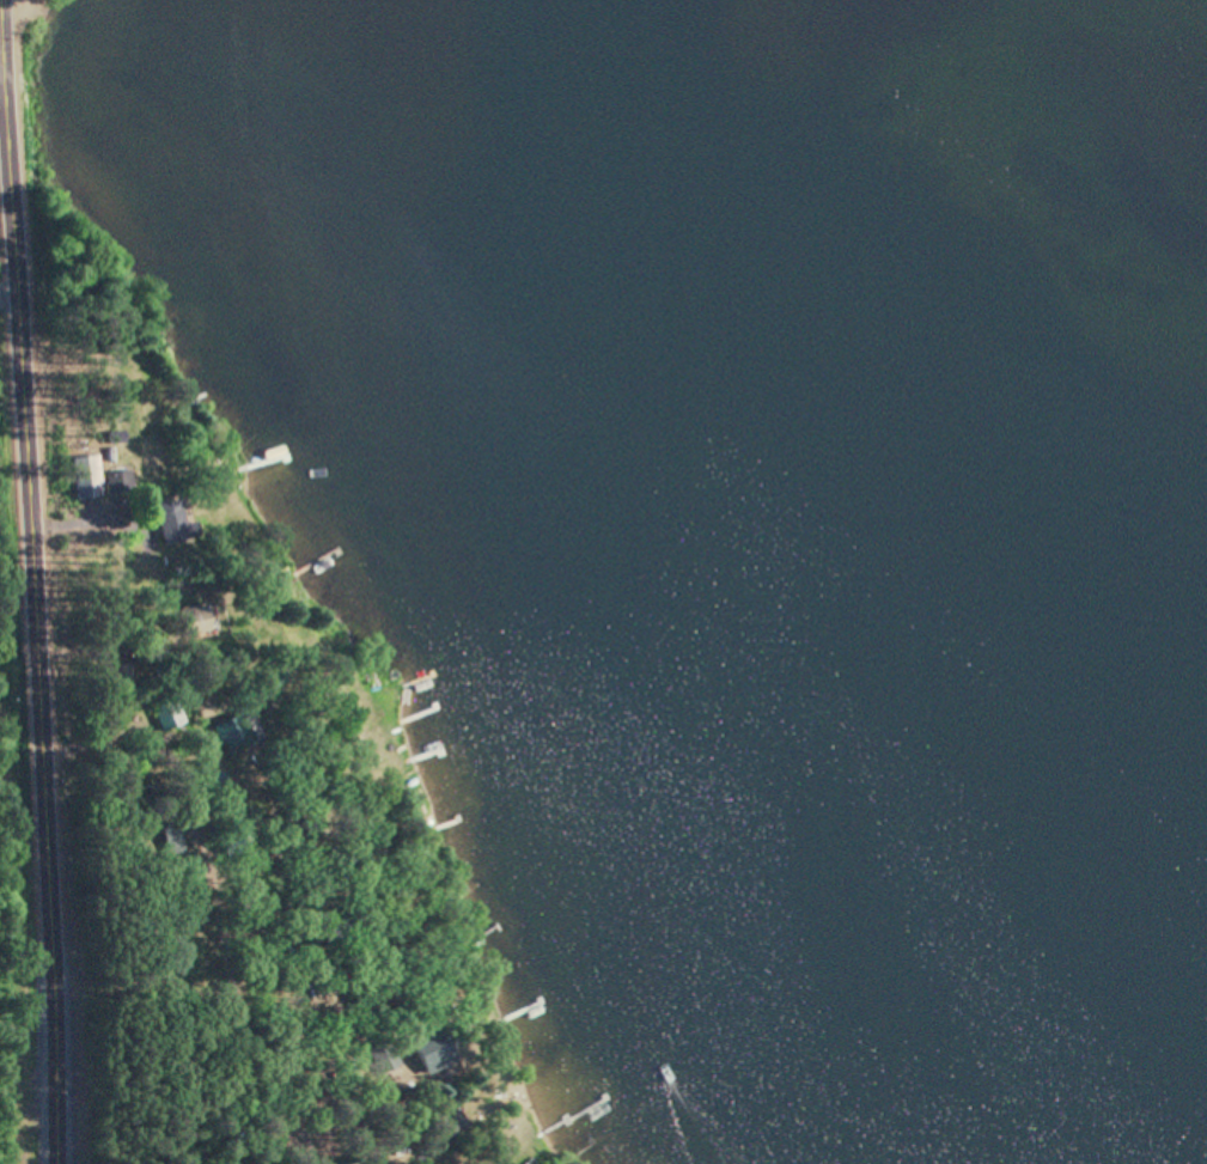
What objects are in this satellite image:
building: (178, 523)
road: (32, 581)
building: (199, 622)
building: (166, 718)
road: (215, 975)
building: (437, 1056)
building: (452, 1123)

